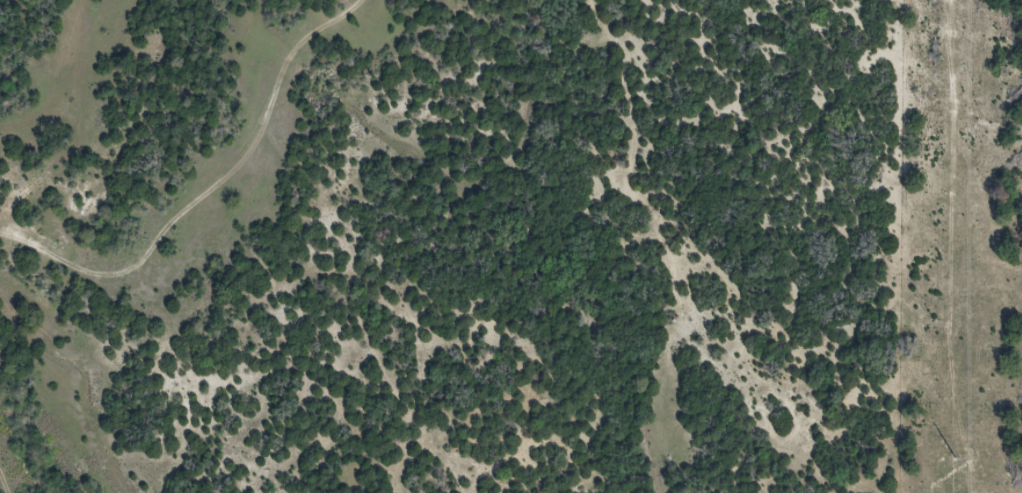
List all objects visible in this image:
power tower: (954, 456)

